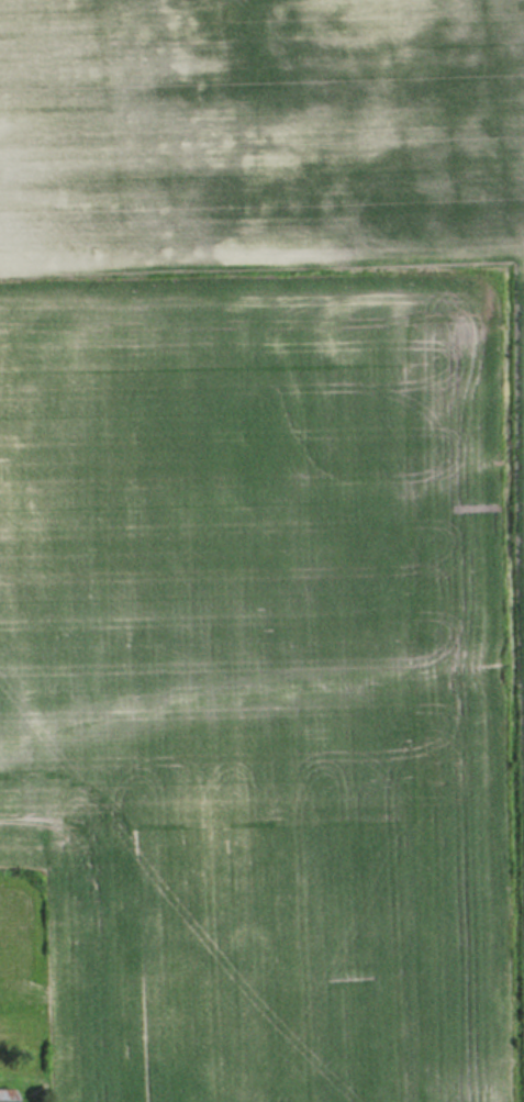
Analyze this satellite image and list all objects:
building: (4, 1095)

